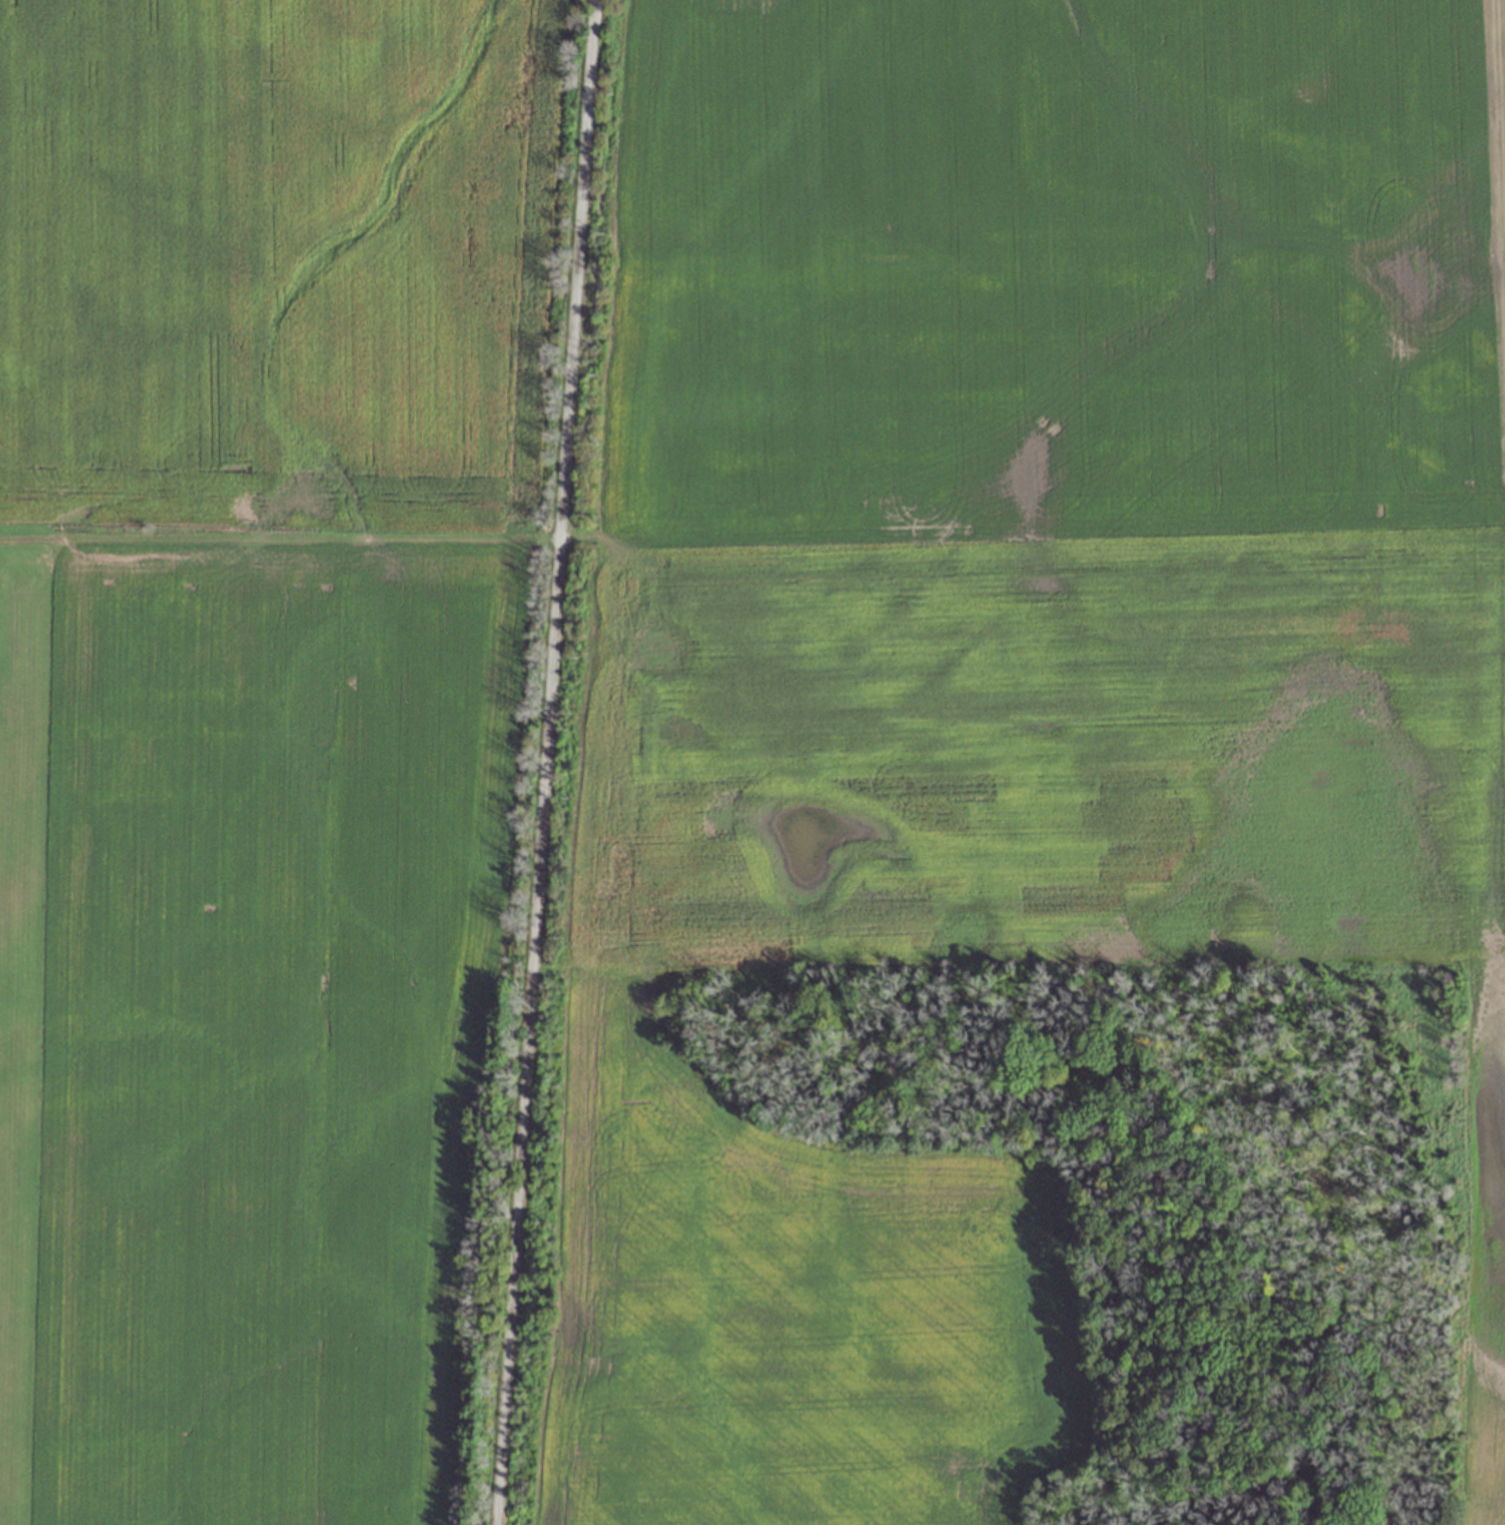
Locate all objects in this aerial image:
road: (542, 762)
airport runway: (8, 871)
airport: (21, 991)

